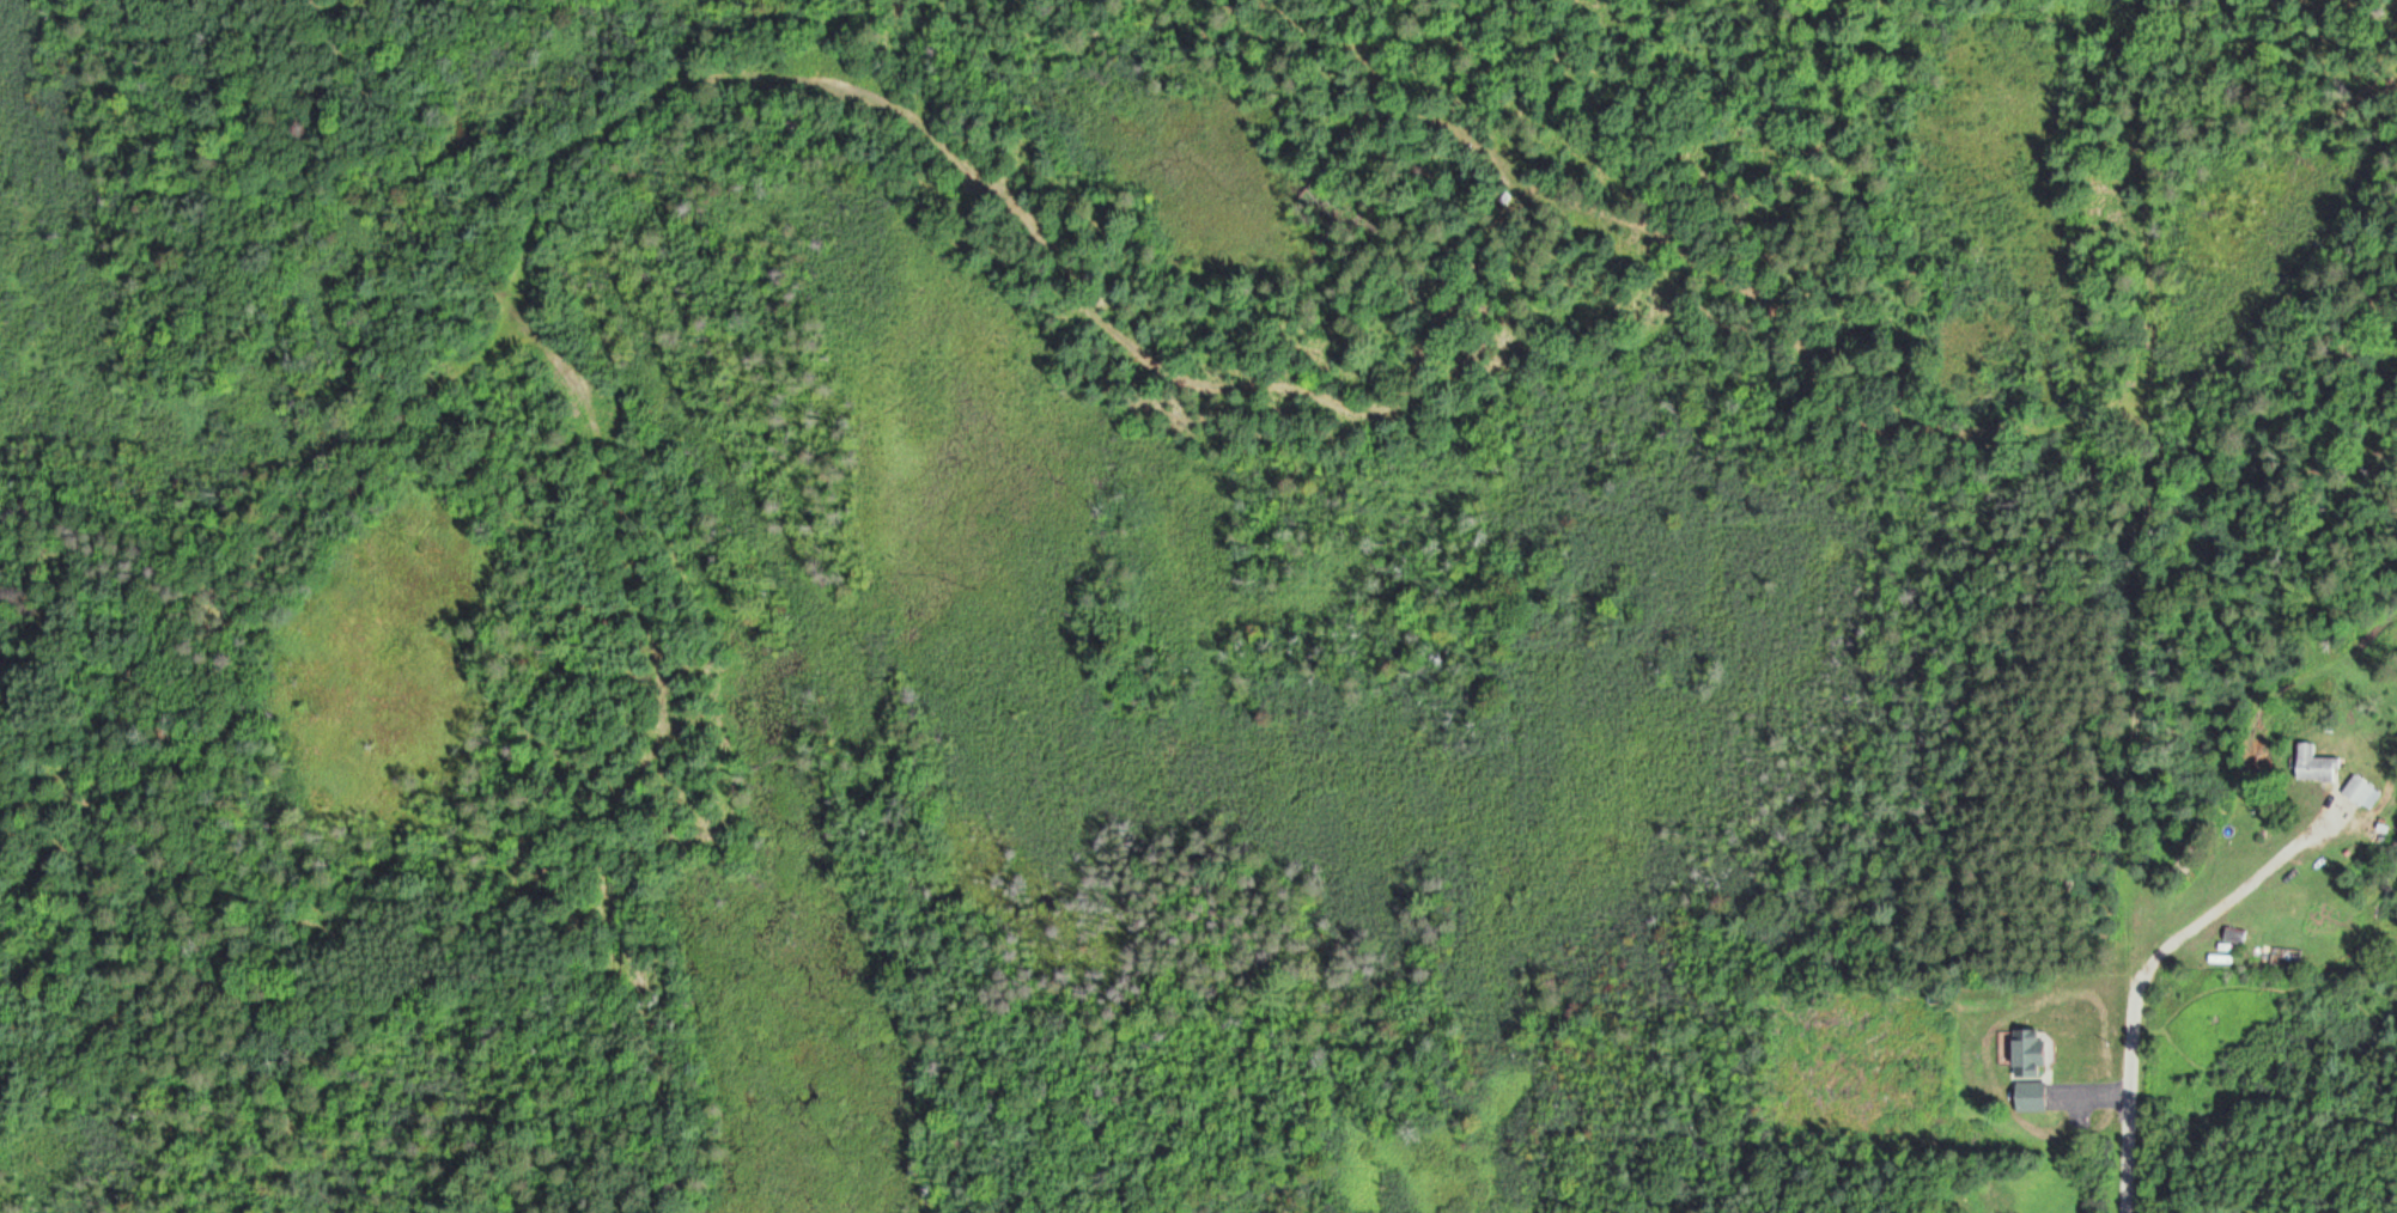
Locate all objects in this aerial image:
building: (2319, 767)
building: (2358, 788)
road: (2225, 897)
building: (2036, 1073)
road: (2127, 1101)

